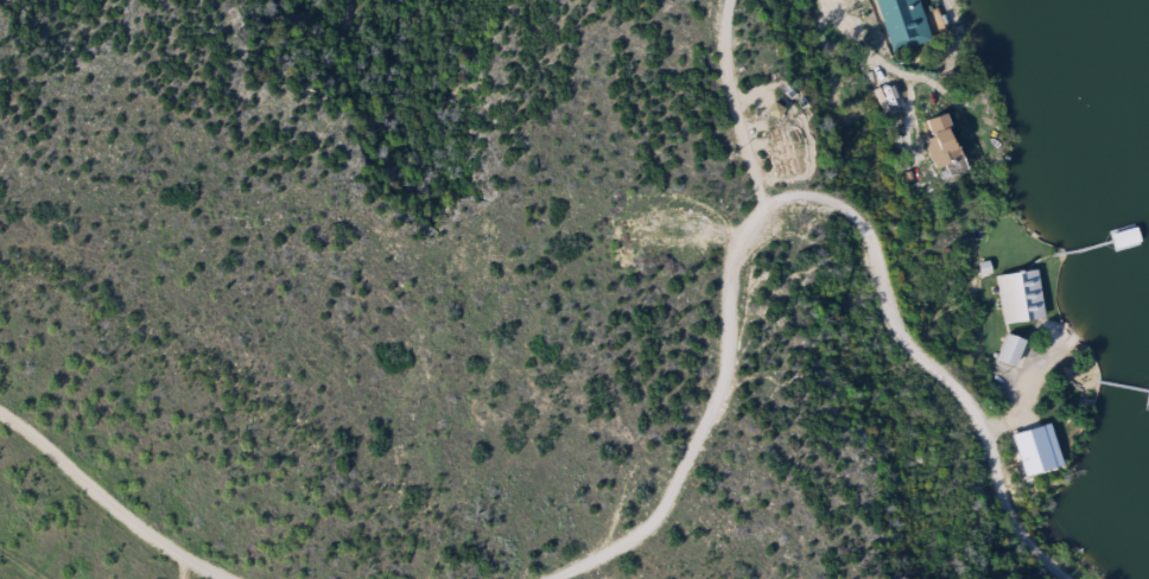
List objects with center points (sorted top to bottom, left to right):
building: (901, 24)
road: (745, 106)
building: (939, 147)
road: (807, 190)
building: (1123, 246)
building: (1018, 297)
building: (1009, 351)
road: (120, 497)

